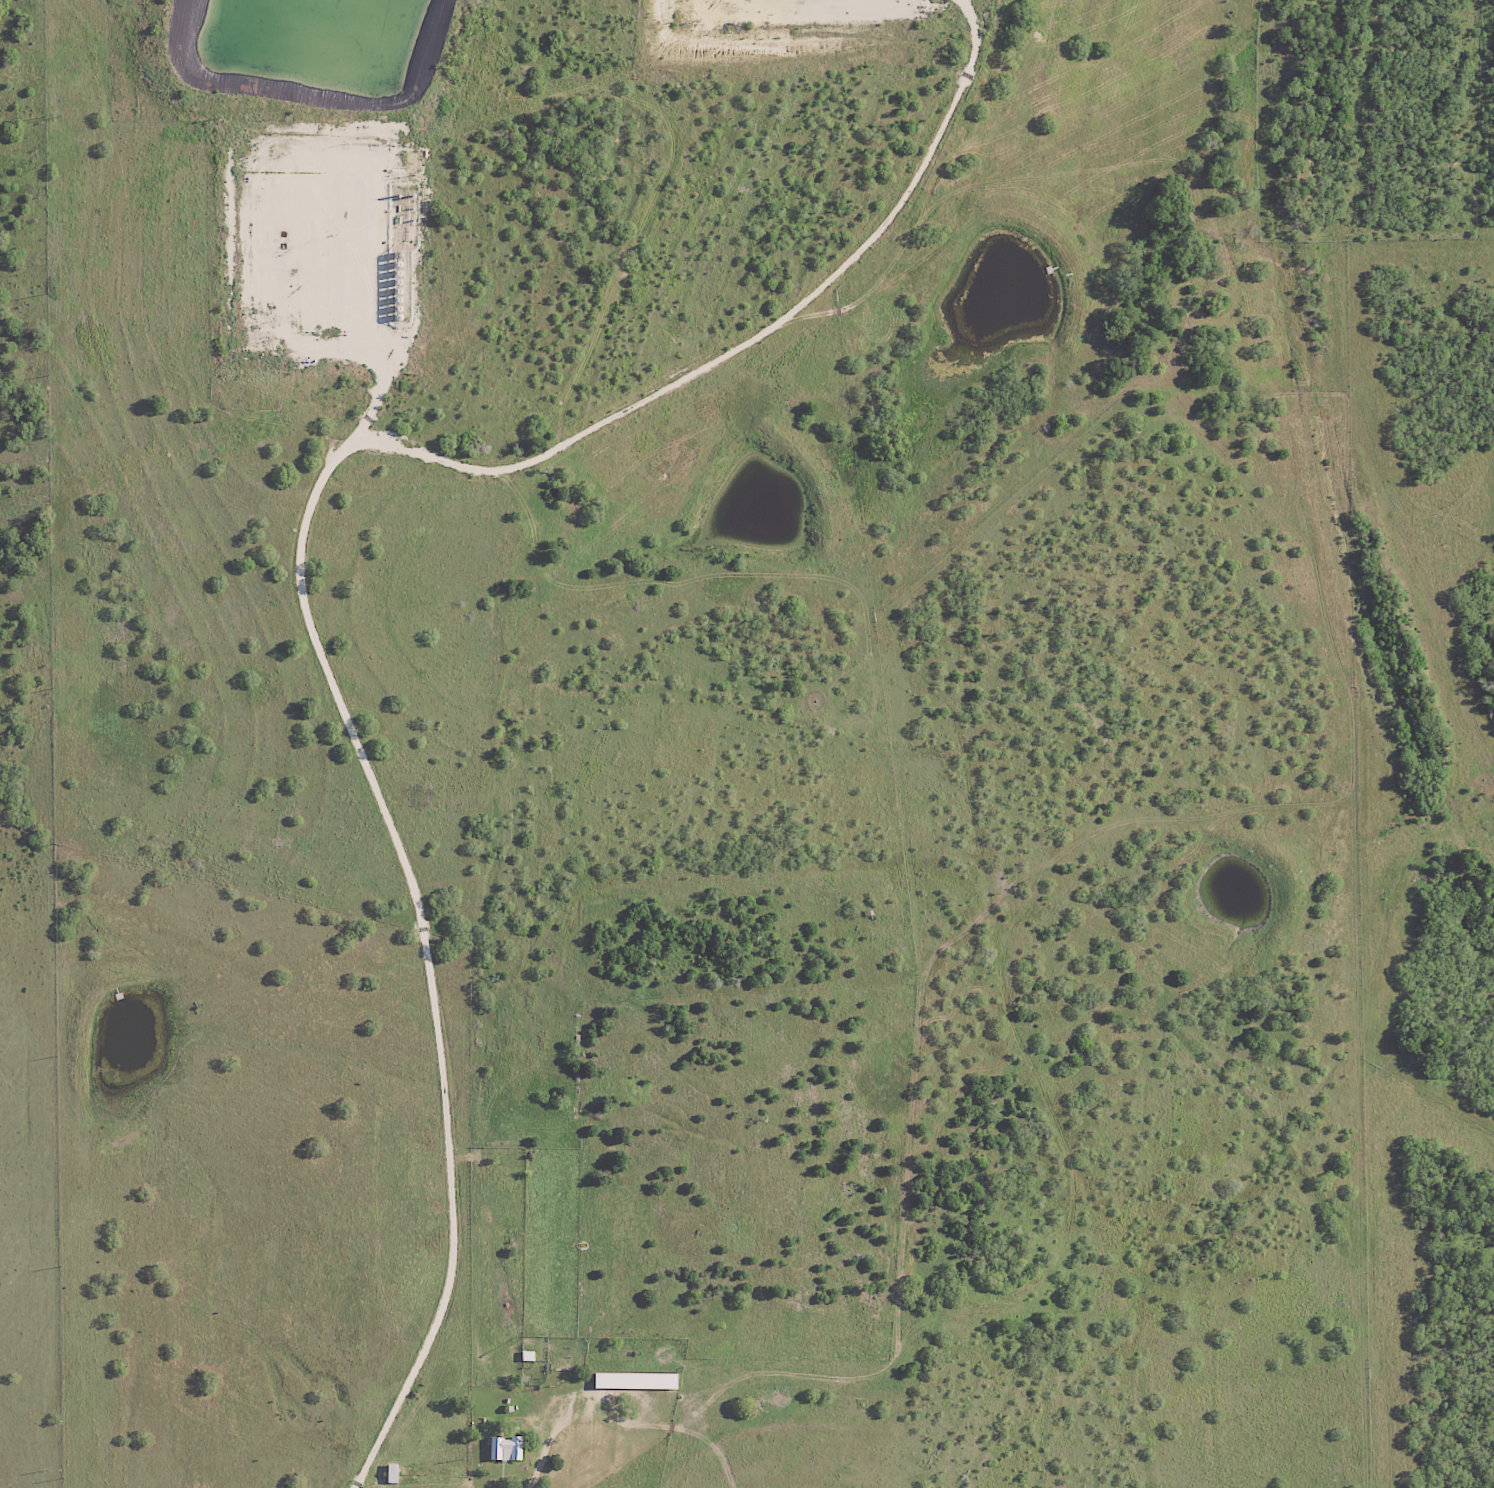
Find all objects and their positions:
building: (635, 1381)
building: (505, 1449)

